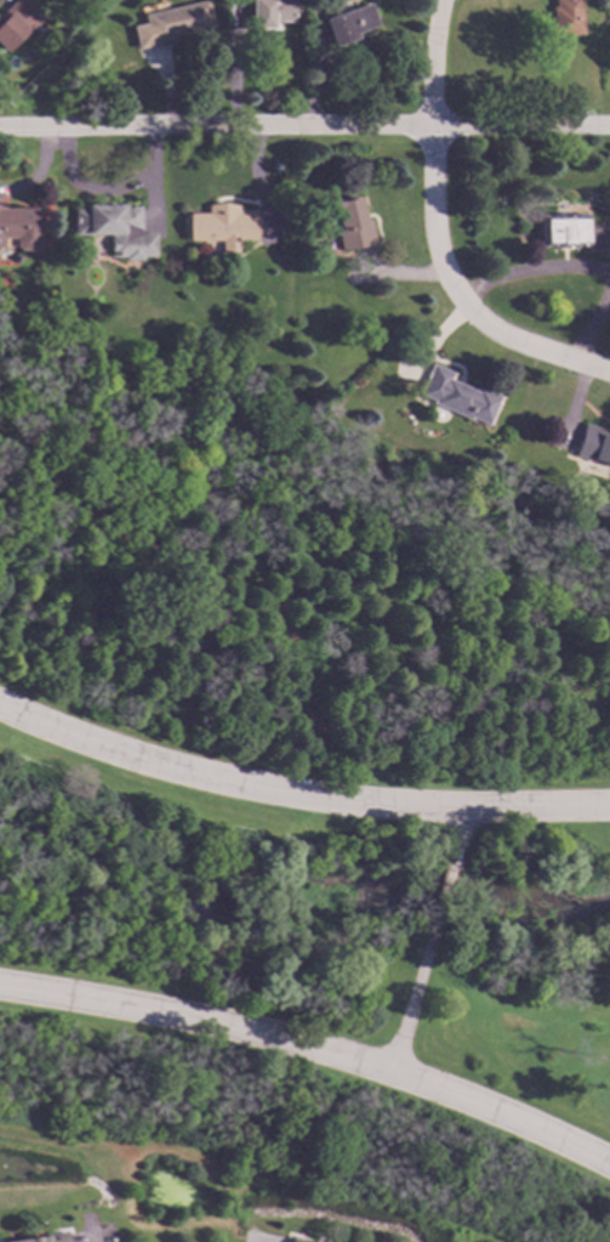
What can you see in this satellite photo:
building: (269, 12)
building: (566, 17)
building: (175, 21)
building: (15, 22)
building: (348, 23)
road: (304, 127)
road: (38, 171)
building: (350, 225)
building: (221, 226)
building: (18, 227)
building: (115, 228)
building: (572, 232)
road: (435, 237)
road: (572, 270)
building: (456, 396)
building: (593, 444)
park: (302, 786)
road: (298, 793)
road: (454, 832)
road: (439, 895)
river: (301, 903)
road: (262, 1036)
road: (502, 1115)
road: (91, 1232)
building: (40, 1237)
building: (297, 1240)

